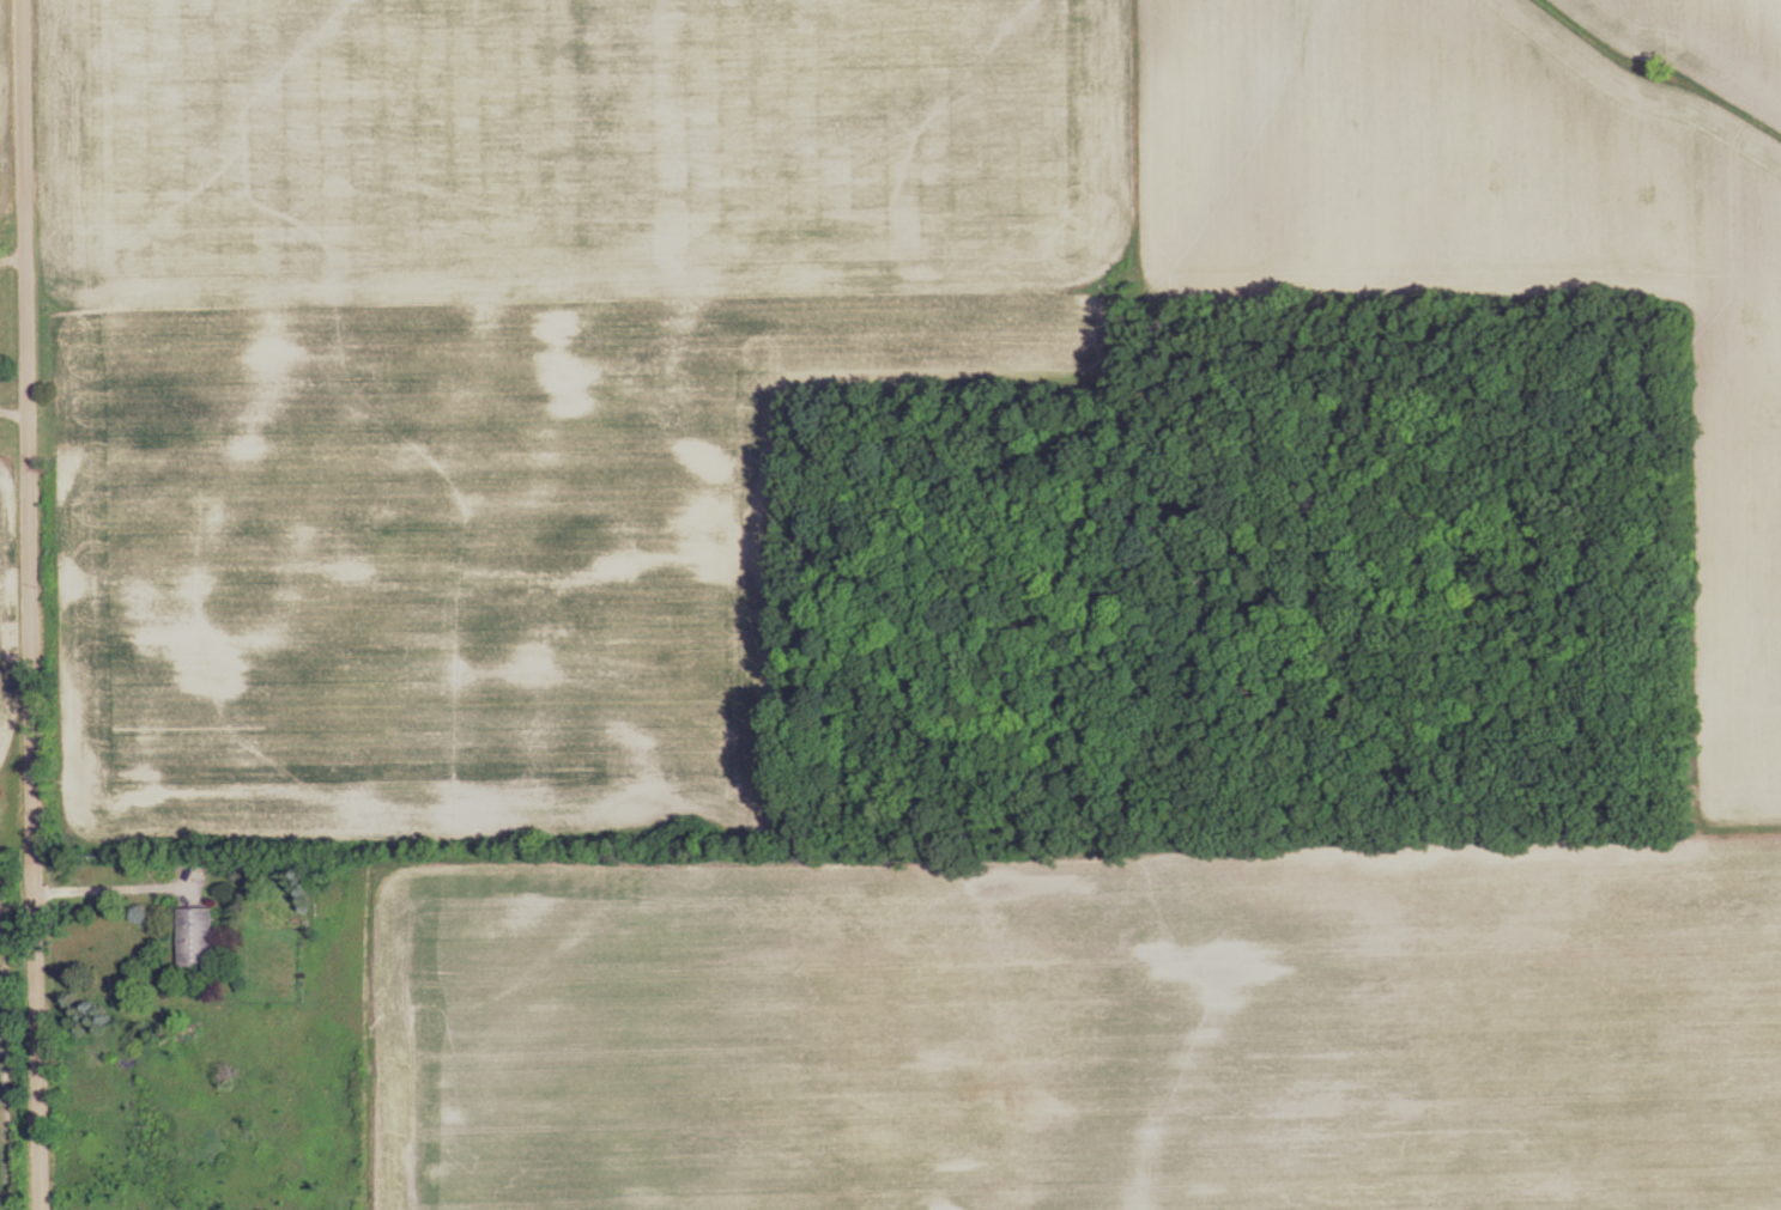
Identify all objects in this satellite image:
road: (13, 249)
road: (14, 407)
road: (32, 604)
road: (105, 882)
building: (199, 937)

